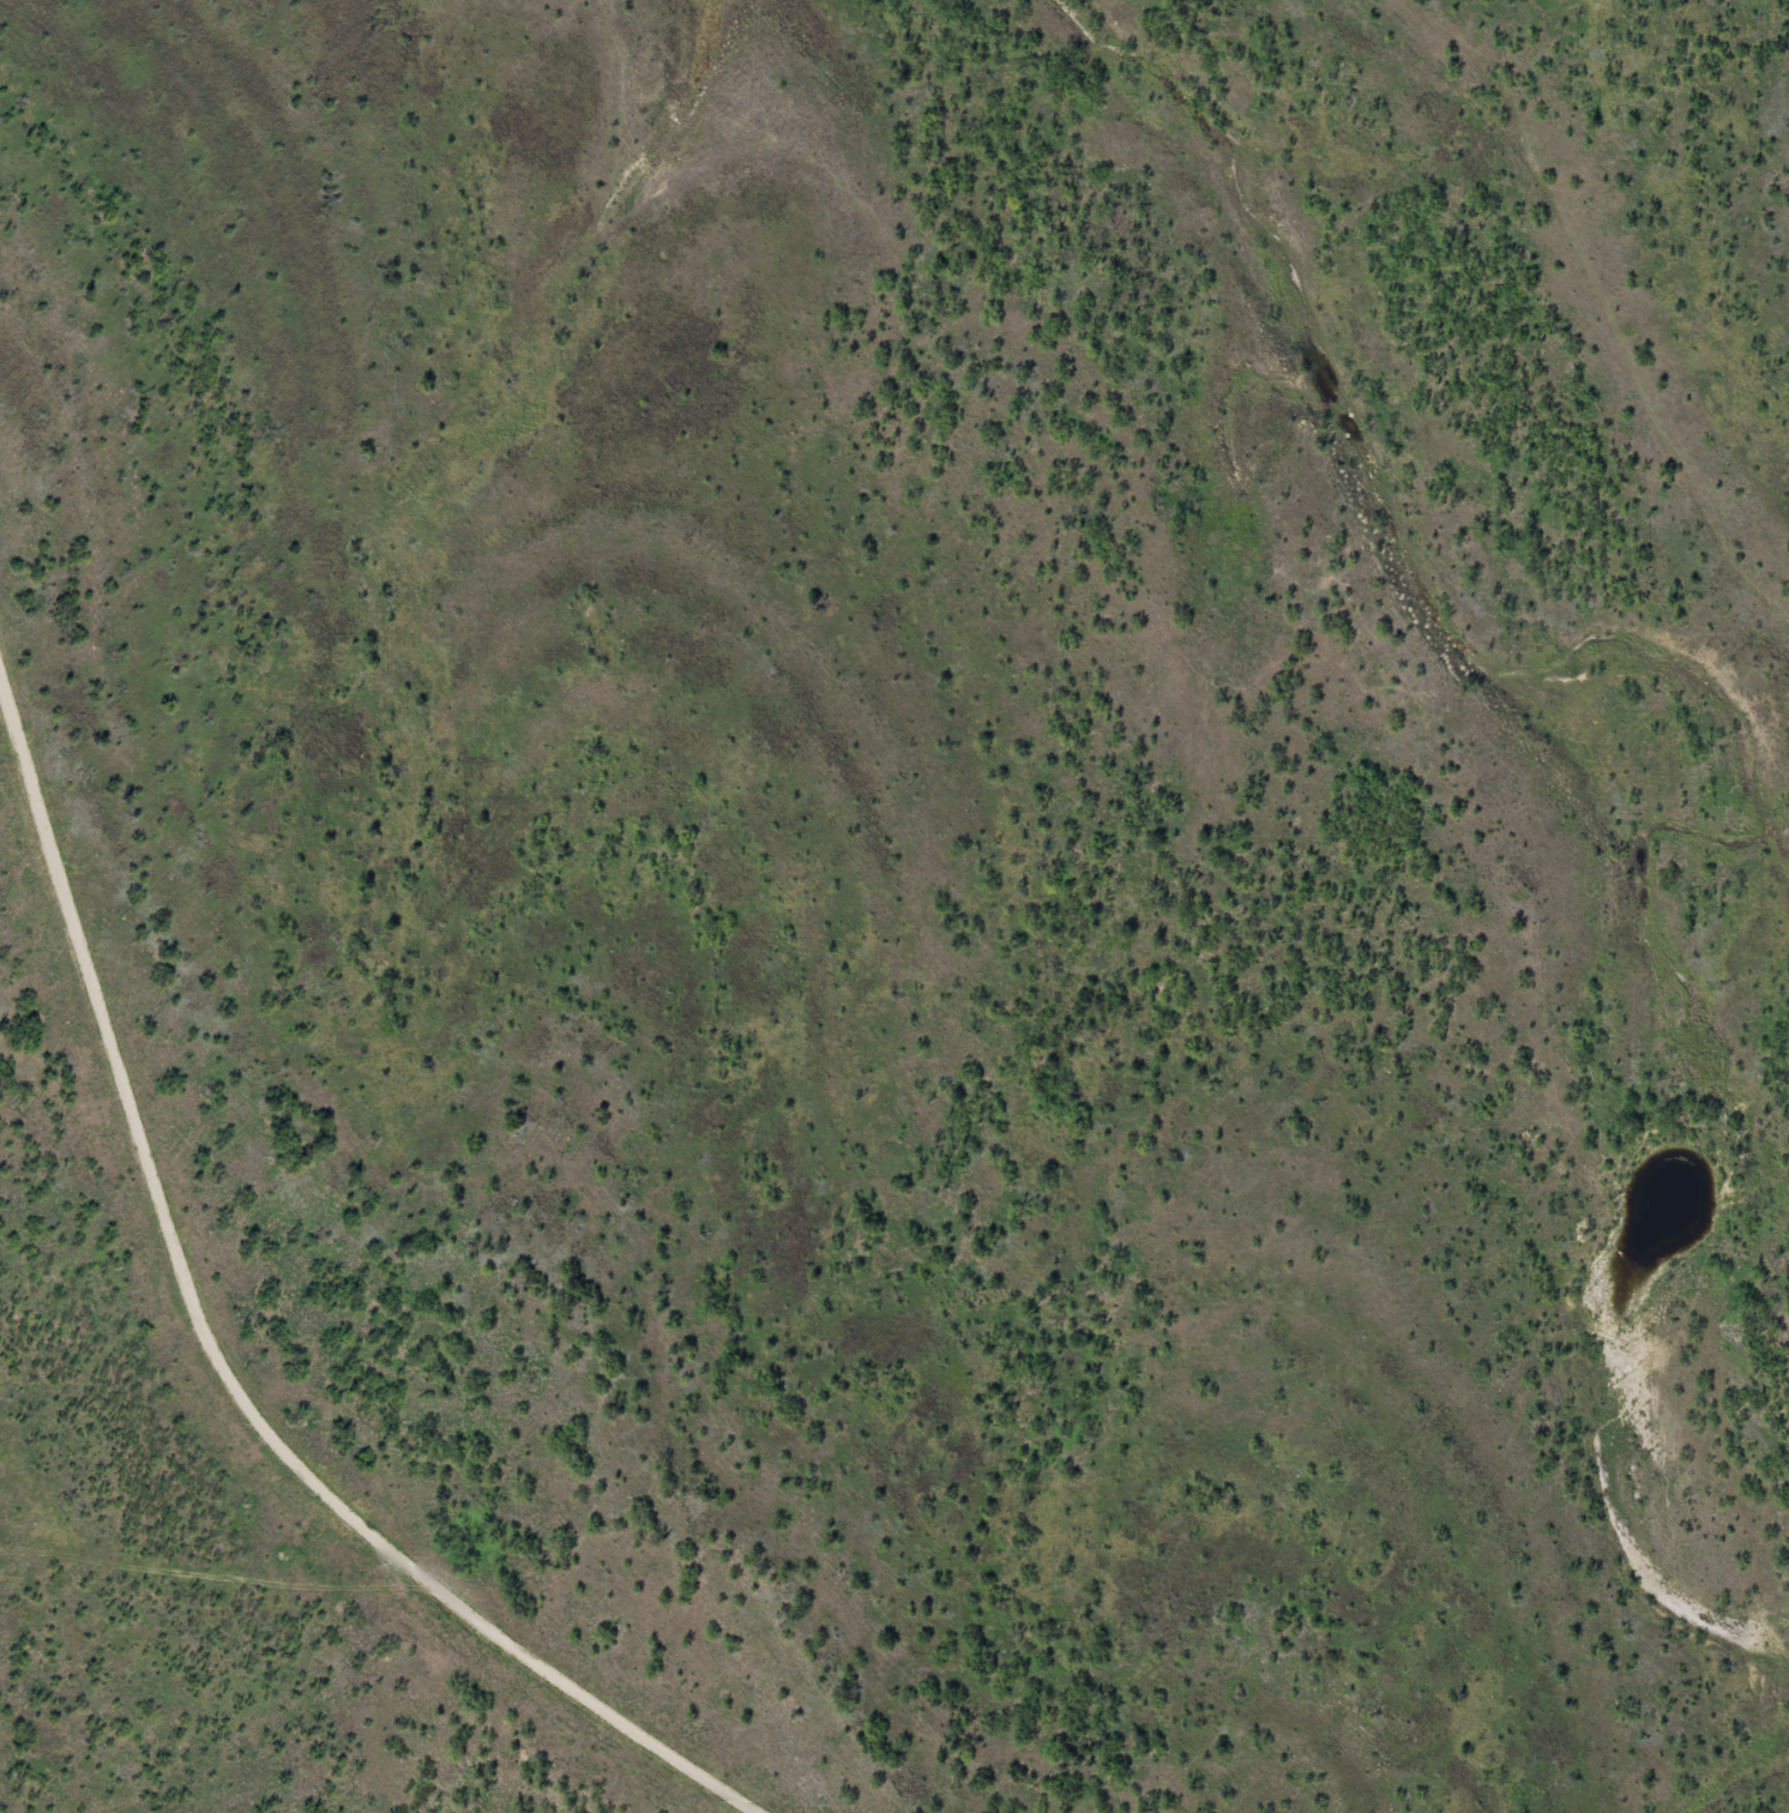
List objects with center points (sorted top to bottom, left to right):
road: (1622, 277)
road: (1607, 1422)
road: (410, 1618)

